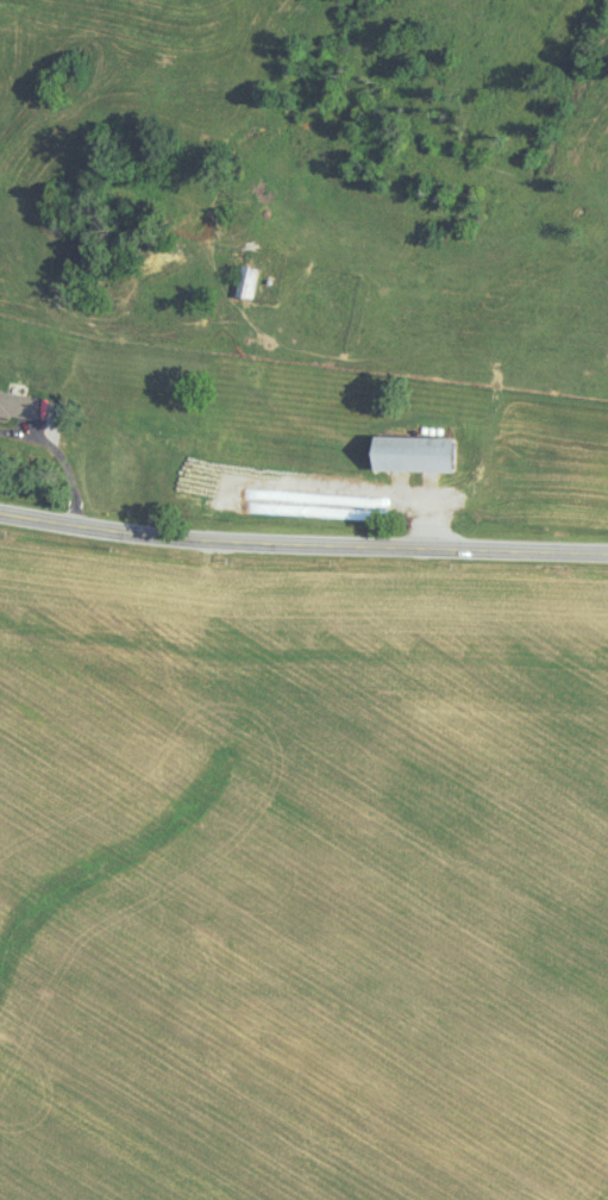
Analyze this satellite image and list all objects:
building: (245, 281)
building: (17, 407)
building: (409, 454)
road: (302, 543)

